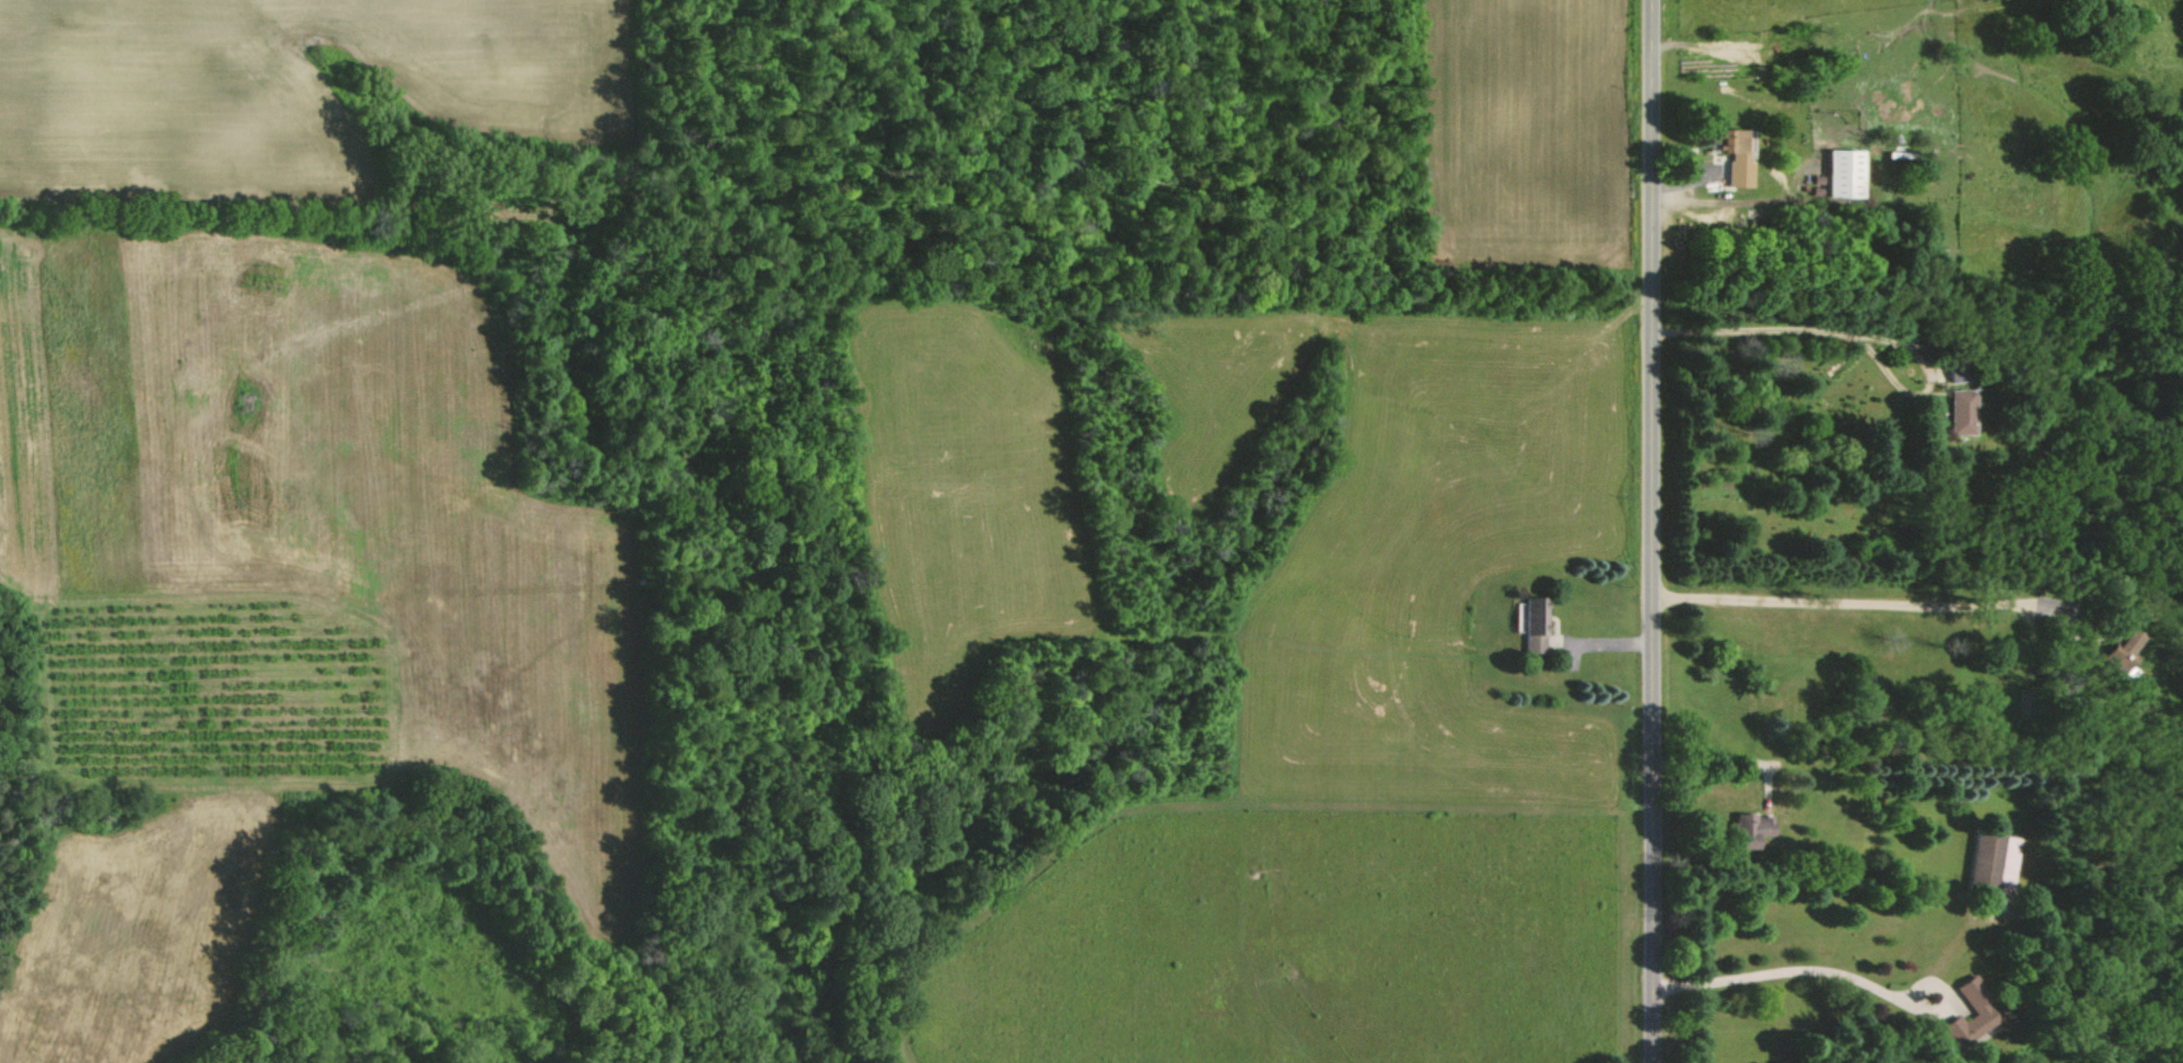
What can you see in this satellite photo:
building: (1843, 173)
road: (1728, 201)
road: (1779, 327)
building: (1960, 411)
road: (1657, 531)
road: (1846, 598)
building: (1531, 623)
building: (2122, 650)
road: (1718, 757)
building: (1747, 830)
building: (1994, 860)
road: (1797, 969)
building: (1970, 998)

